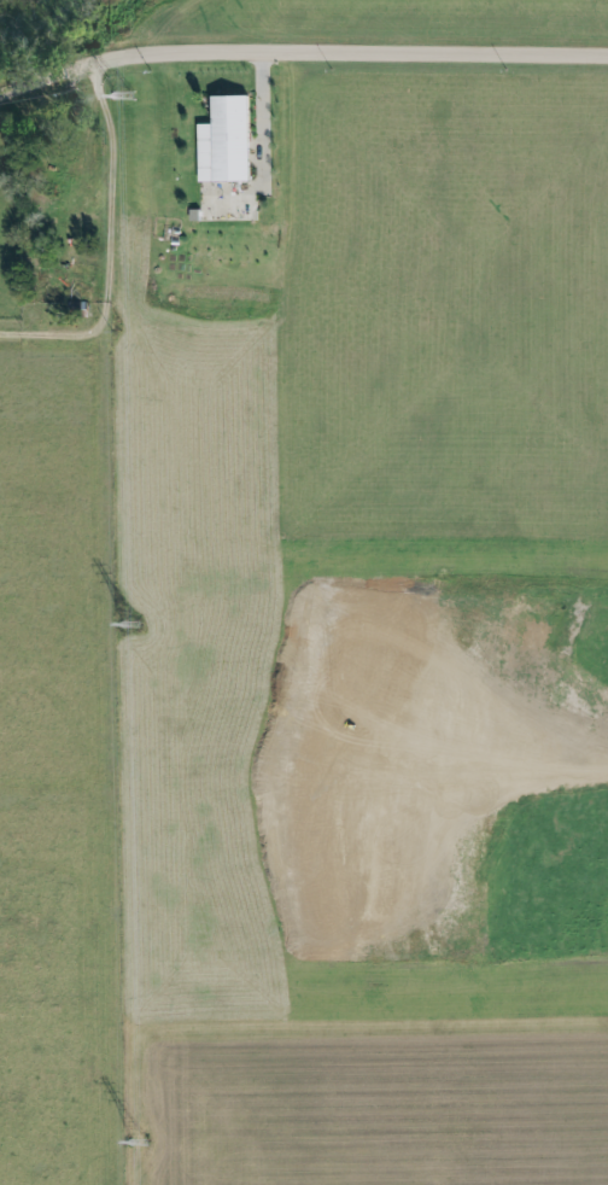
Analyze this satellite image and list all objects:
road: (300, 52)
power tower: (127, 98)
building: (226, 139)
road: (262, 147)
road: (110, 249)
power tower: (128, 627)
power tower: (141, 1146)

